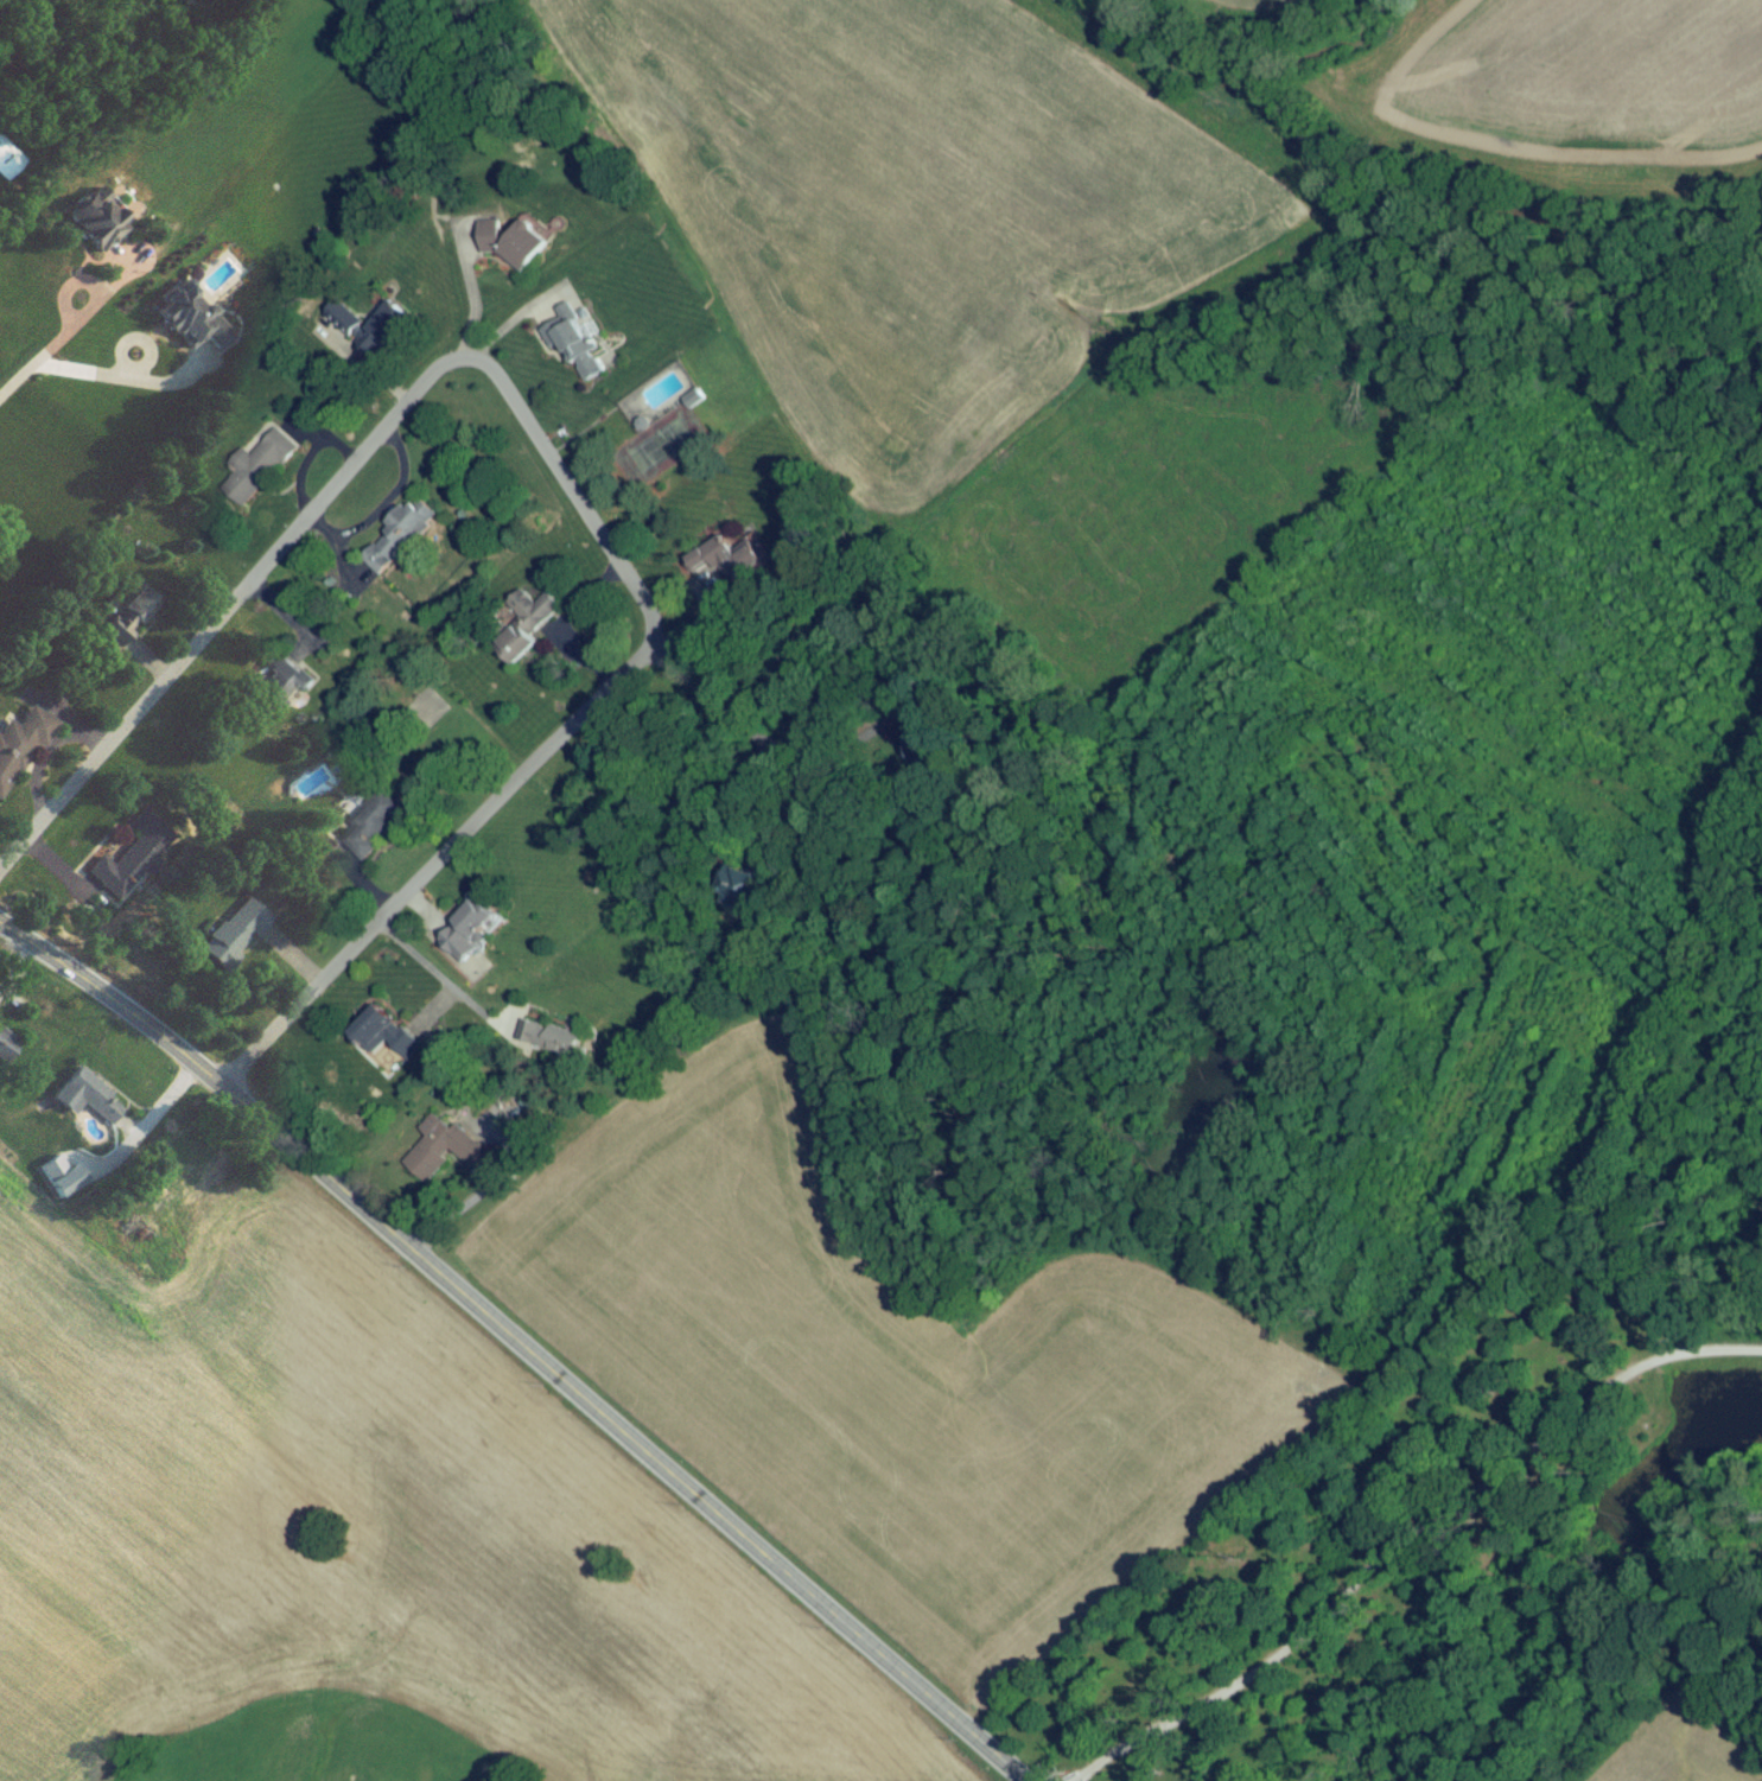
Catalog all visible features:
building: (7, 167)
building: (510, 249)
building: (186, 324)
road: (75, 329)
building: (571, 349)
road: (551, 464)
building: (260, 471)
building: (397, 540)
building: (723, 565)
building: (545, 615)
building: (125, 624)
building: (510, 647)
building: (267, 693)
building: (428, 713)
road: (748, 729)
building: (19, 748)
building: (376, 823)
building: (140, 854)
building: (467, 934)
building: (230, 940)
road: (438, 978)
building: (381, 1045)
building: (548, 1045)
building: (5, 1050)
building: (84, 1103)
building: (439, 1153)
building: (185, 1159)
building: (59, 1183)
road: (516, 1344)
road: (1411, 1547)

